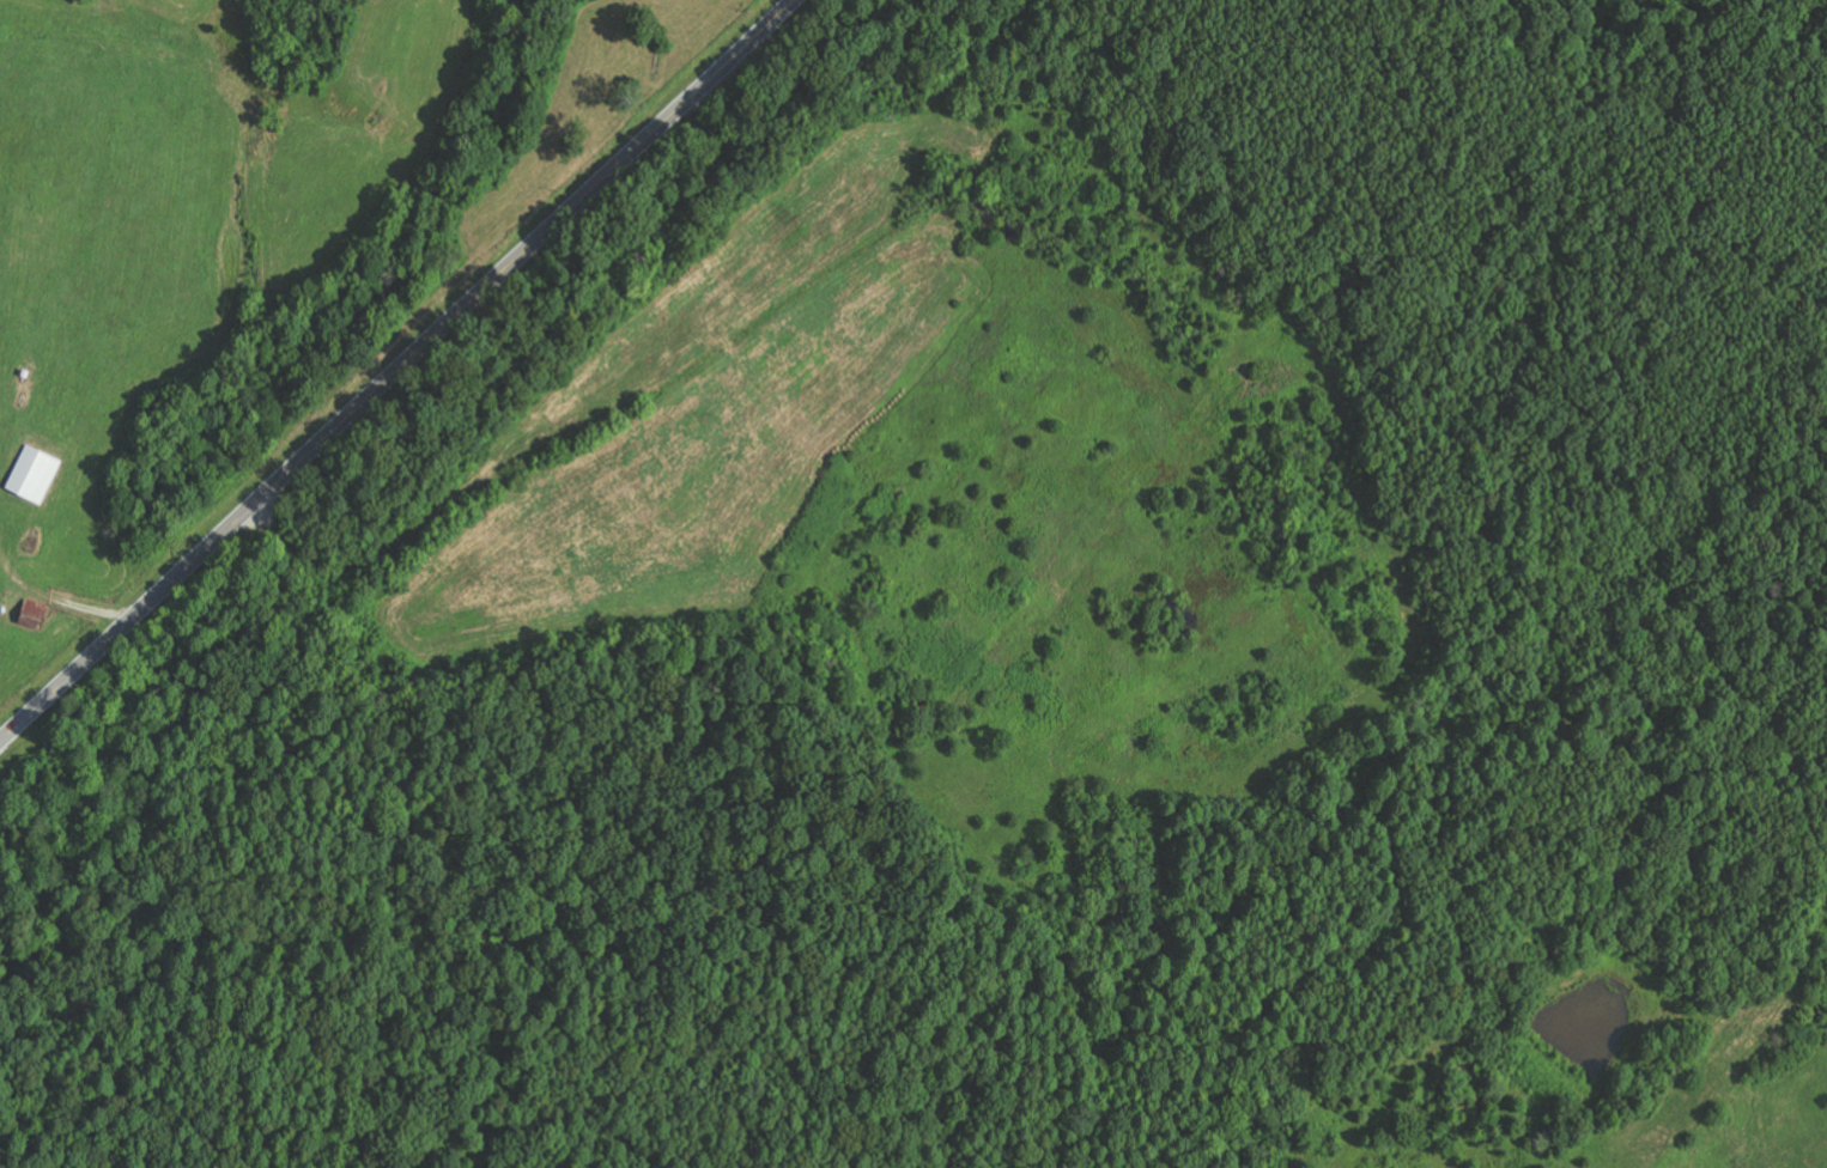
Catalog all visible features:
road: (396, 370)
building: (35, 474)
building: (35, 615)

